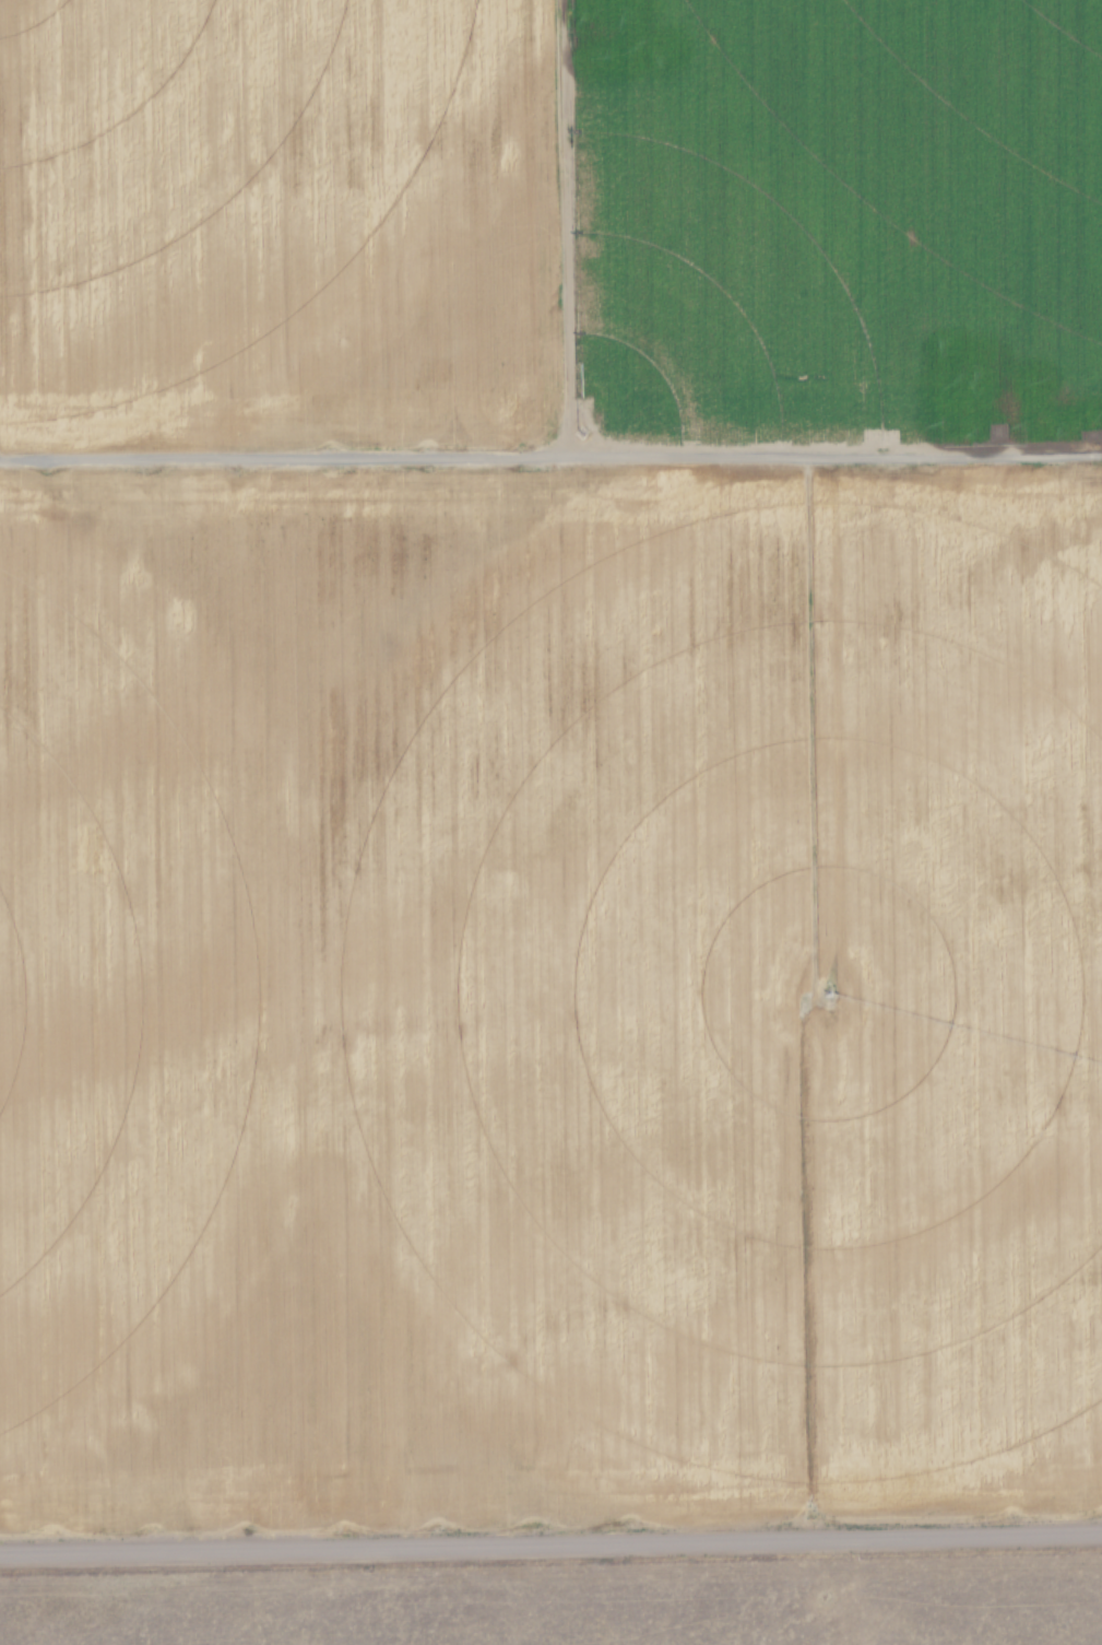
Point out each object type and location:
road: (550, 1542)

